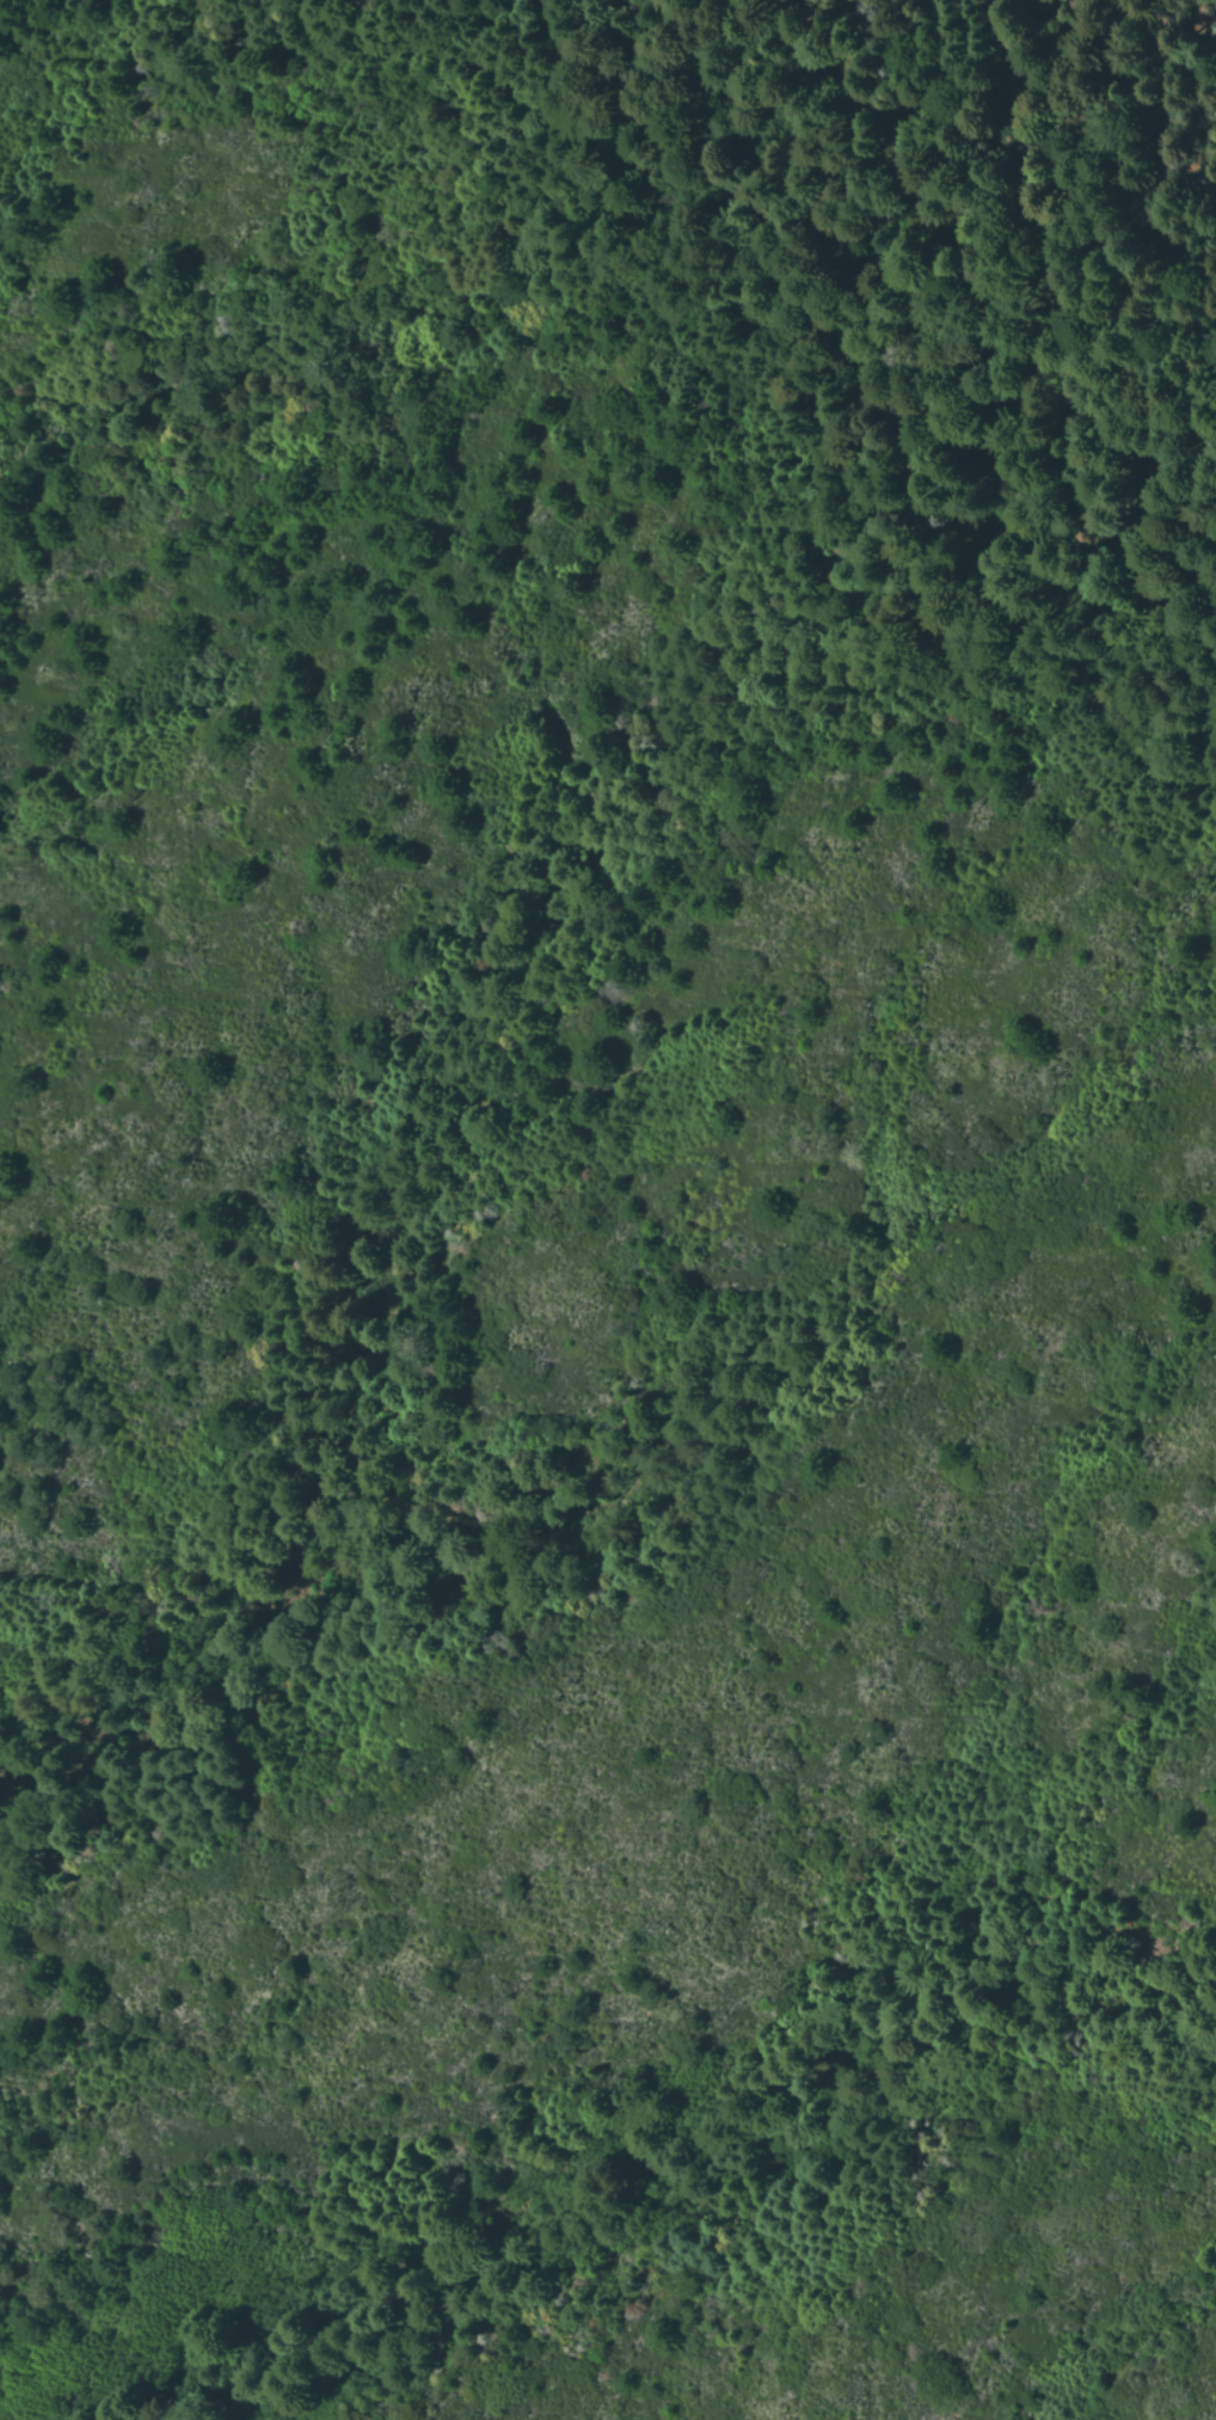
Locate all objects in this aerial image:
road: (963, 253)

